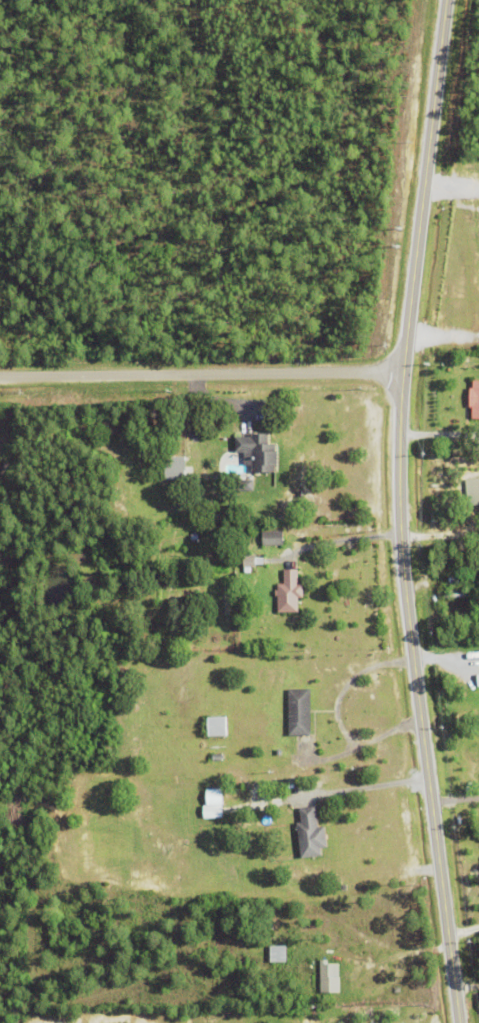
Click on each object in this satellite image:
road: (201, 374)
building: (474, 402)
building: (259, 454)
building: (175, 470)
building: (241, 485)
building: (472, 493)
road: (400, 511)
road: (440, 532)
building: (269, 537)
building: (194, 541)
building: (249, 564)
building: (289, 594)
building: (459, 596)
building: (475, 680)
building: (297, 683)
building: (299, 715)
building: (216, 729)
road: (364, 782)
building: (255, 790)
building: (214, 800)
building: (310, 837)
building: (305, 886)
building: (277, 957)
building: (329, 980)

